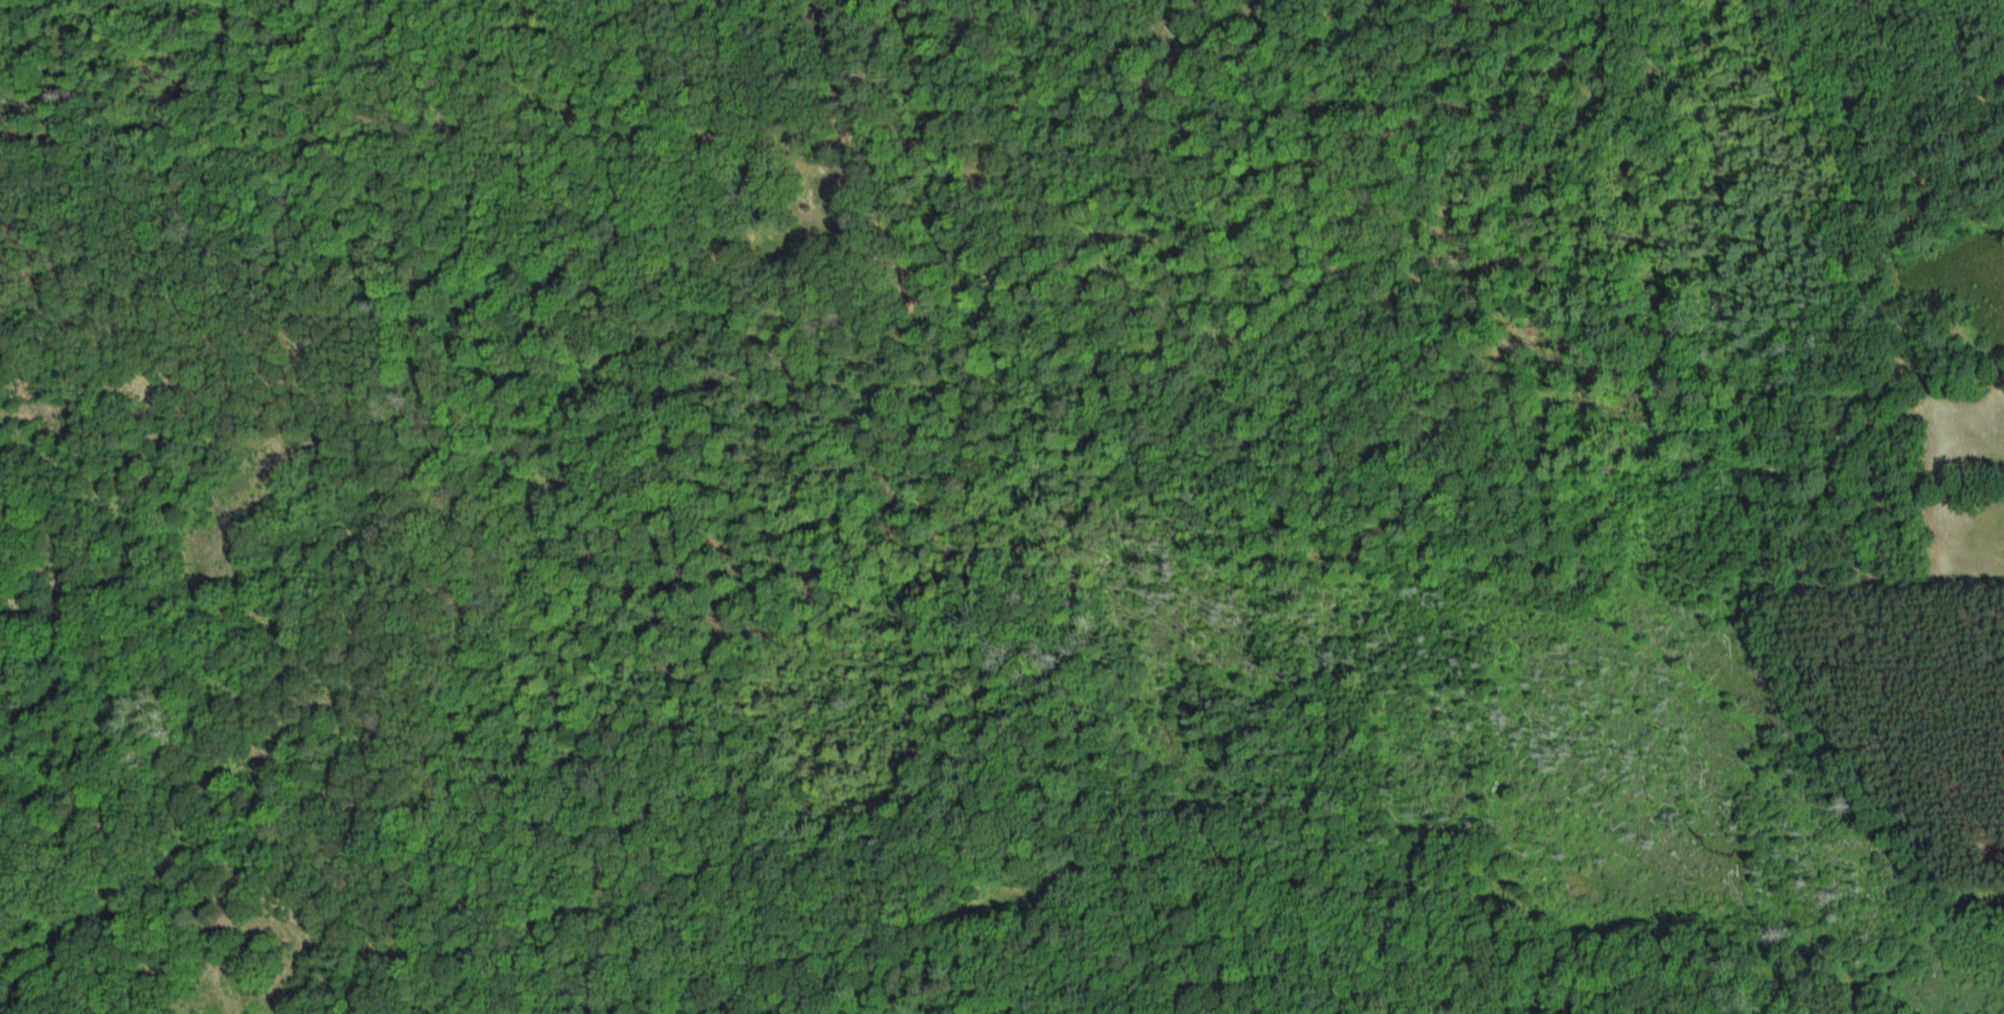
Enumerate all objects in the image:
road: (1908, 292)

